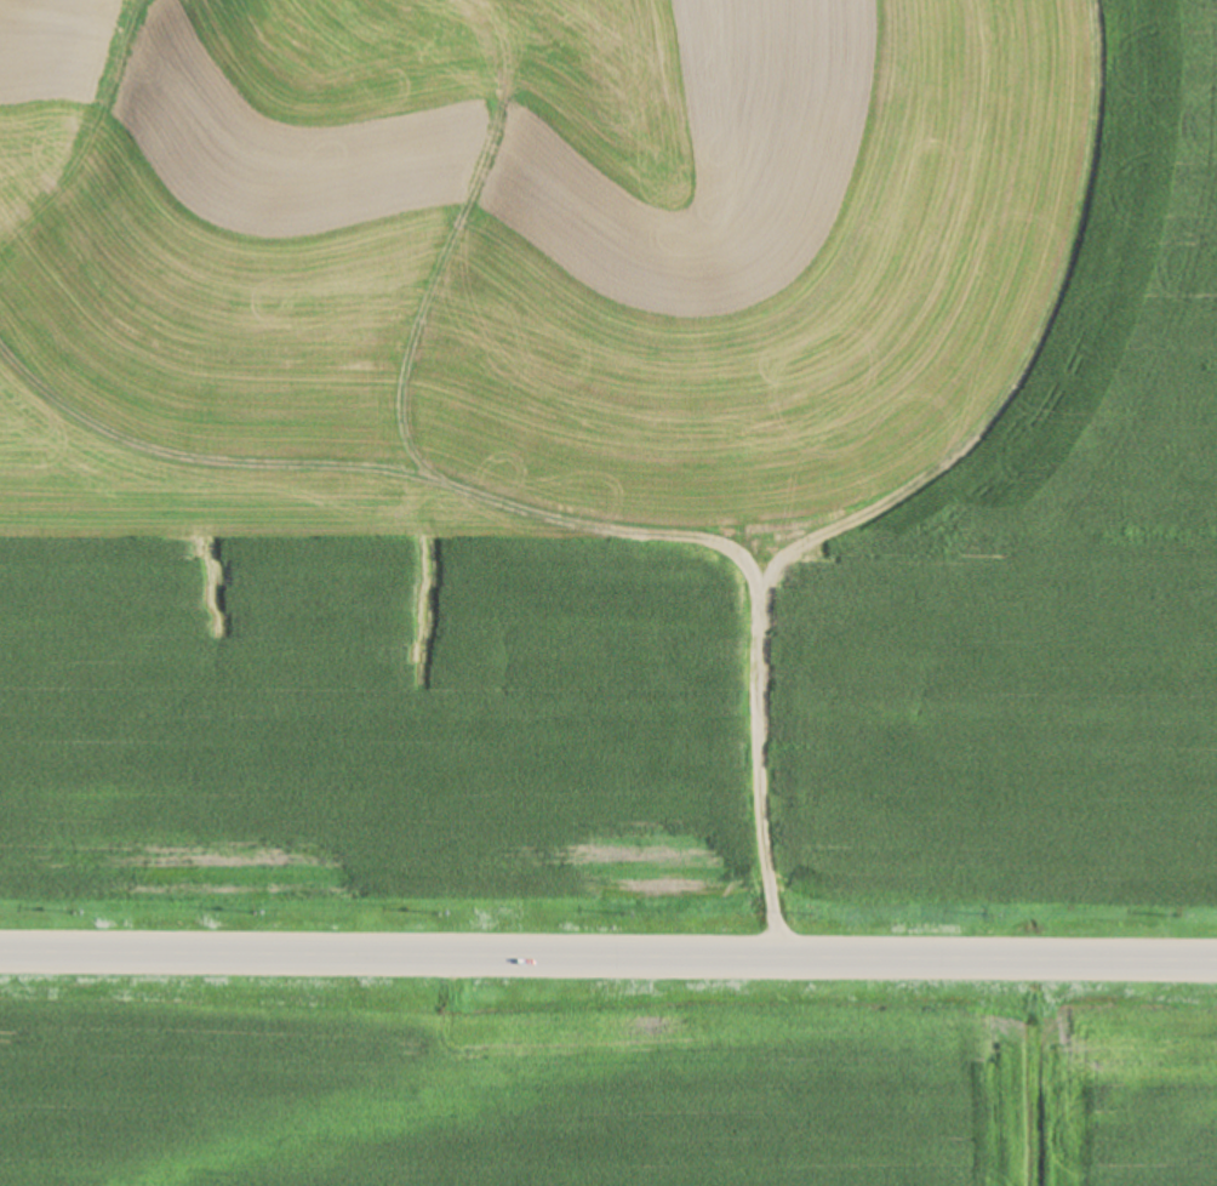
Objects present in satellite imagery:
road: (611, 512)
road: (762, 751)
road: (607, 951)

